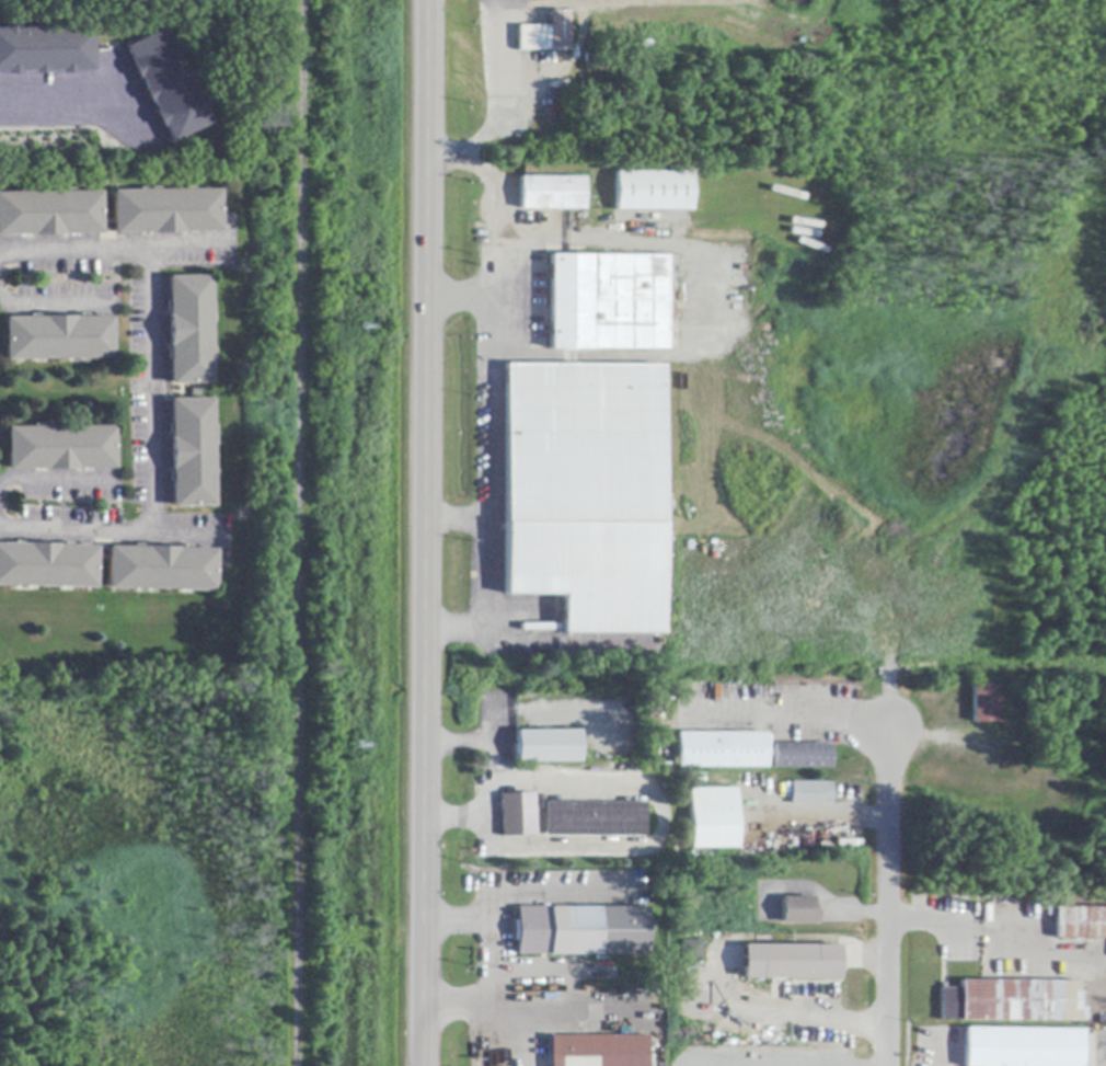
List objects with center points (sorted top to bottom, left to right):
building: (548, 34)
building: (45, 50)
building: (602, 64)
building: (552, 77)
building: (166, 85)
road: (56, 100)
building: (534, 110)
road: (451, 158)
building: (653, 191)
building: (552, 194)
building: (165, 211)
building: (49, 214)
road: (116, 248)
road: (459, 297)
road: (56, 303)
building: (609, 303)
power tower: (359, 326)
building: (188, 331)
road: (492, 333)
building: (57, 339)
road: (154, 391)
building: (58, 447)
building: (191, 454)
road: (56, 478)
building: (586, 493)
road: (458, 518)
railway: (298, 532)
road: (426, 532)
road: (112, 535)
building: (46, 565)
building: (160, 569)
building: (986, 703)
road: (798, 714)
power tower: (355, 744)
building: (548, 746)
building: (724, 749)
building: (803, 757)
road: (487, 777)
building: (811, 793)
building: (518, 815)
building: (715, 818)
building: (596, 819)
road: (660, 832)
road: (888, 899)
building: (799, 912)
building: (1081, 922)
building: (583, 931)
building: (692, 951)
road: (489, 960)
building: (792, 963)
building: (1012, 1001)
building: (1024, 1047)
building: (601, 1051)

